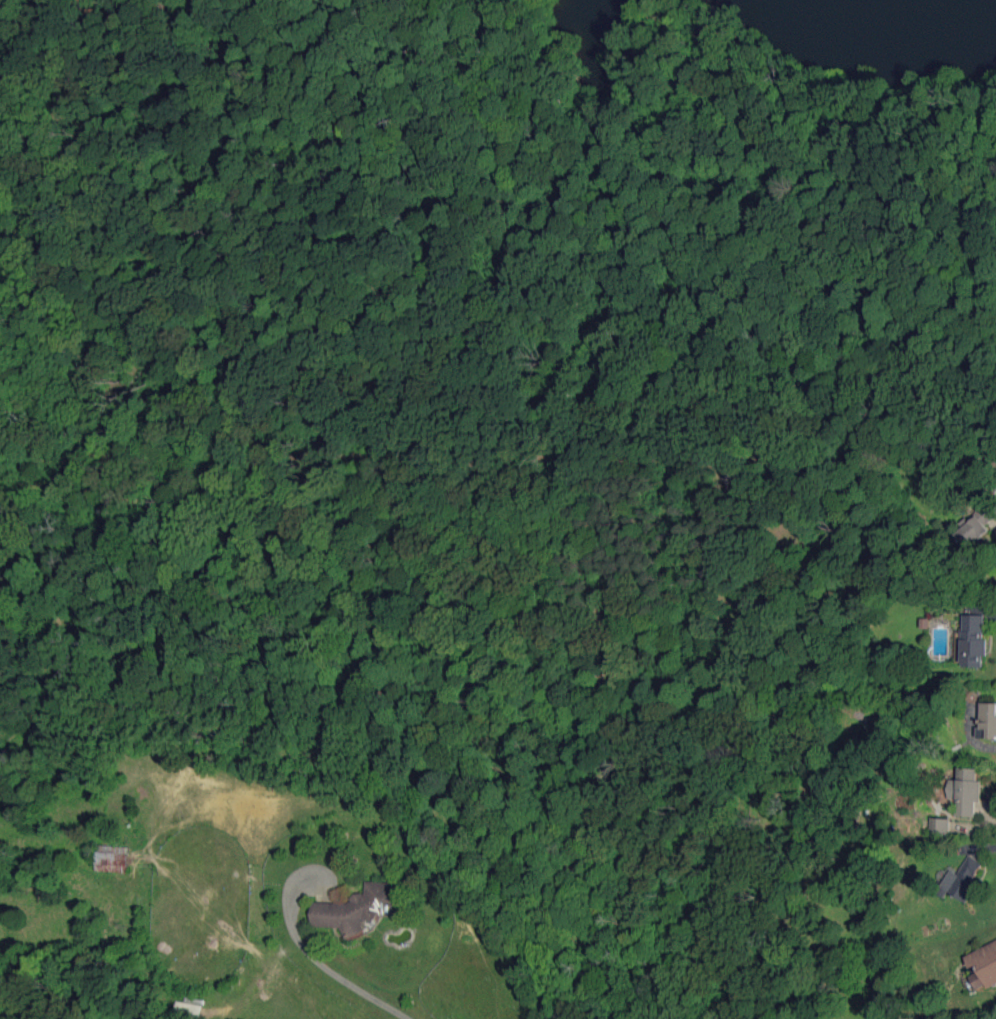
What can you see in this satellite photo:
road: (369, 102)
road: (662, 156)
road: (529, 298)
road: (222, 303)
building: (976, 525)
building: (973, 640)
building: (987, 720)
building: (965, 791)
building: (940, 827)
building: (961, 880)
building: (358, 908)
building: (983, 966)
road: (340, 977)
building: (188, 1011)

